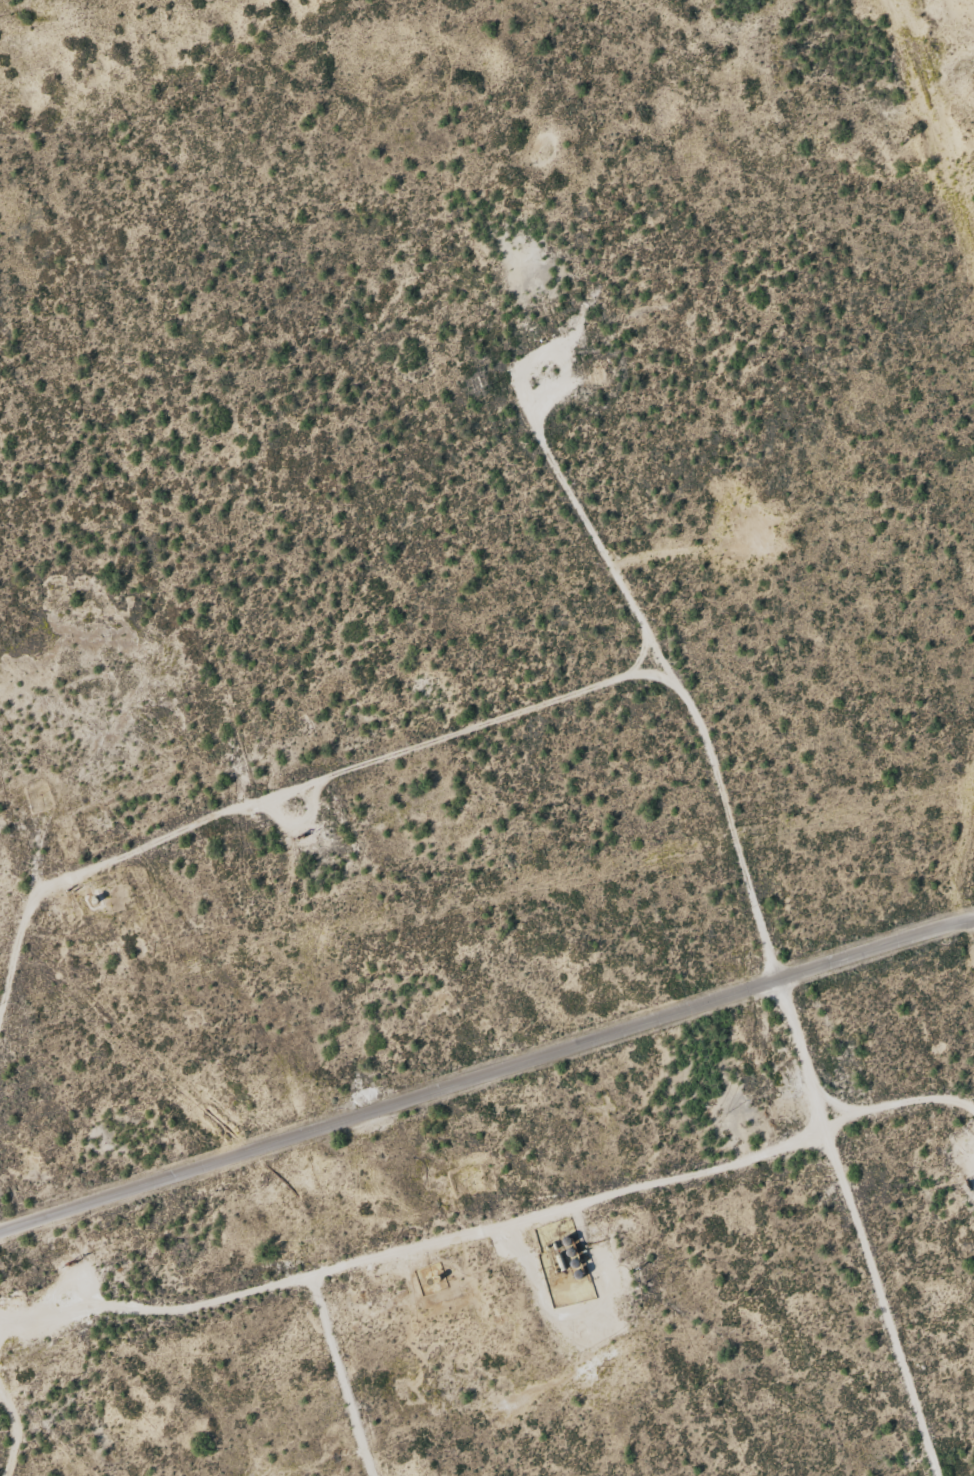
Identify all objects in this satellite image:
road: (296, 814)
road: (775, 956)
road: (487, 1076)
road: (415, 1279)

